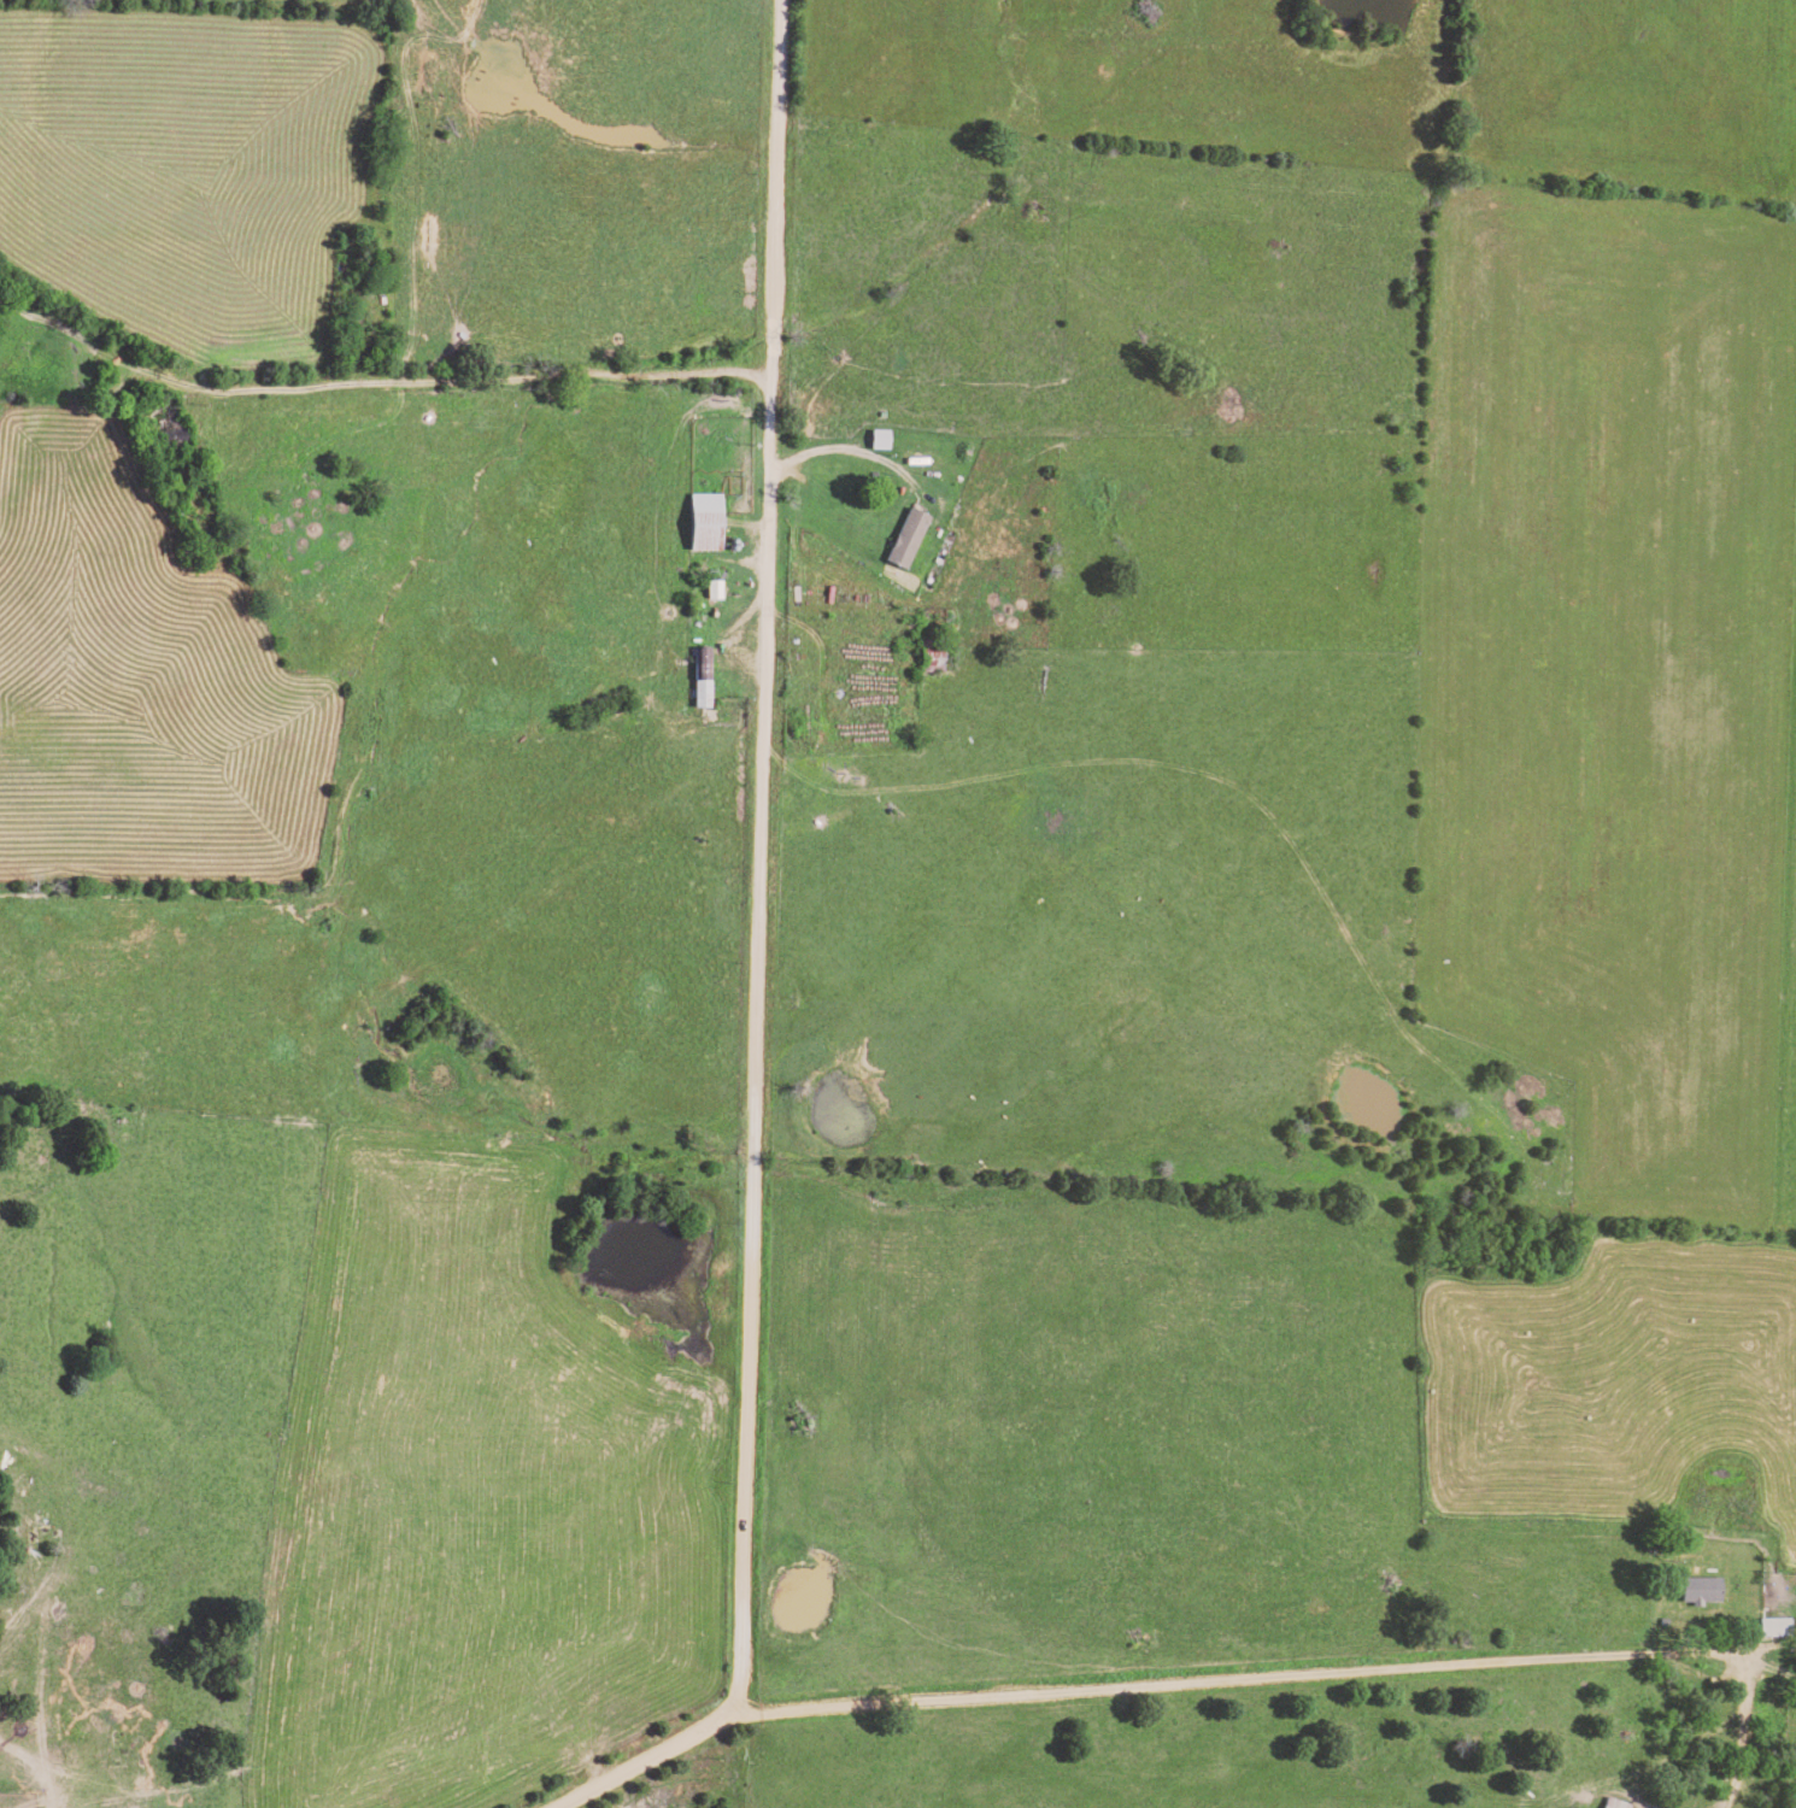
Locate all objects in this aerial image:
road: (481, 415)
building: (875, 439)
building: (700, 521)
building: (903, 536)
building: (709, 588)
building: (699, 676)
road: (753, 958)
building: (1701, 1589)
building: (1774, 1627)
road: (1714, 1680)
road: (1203, 1681)
building: (1614, 1803)

